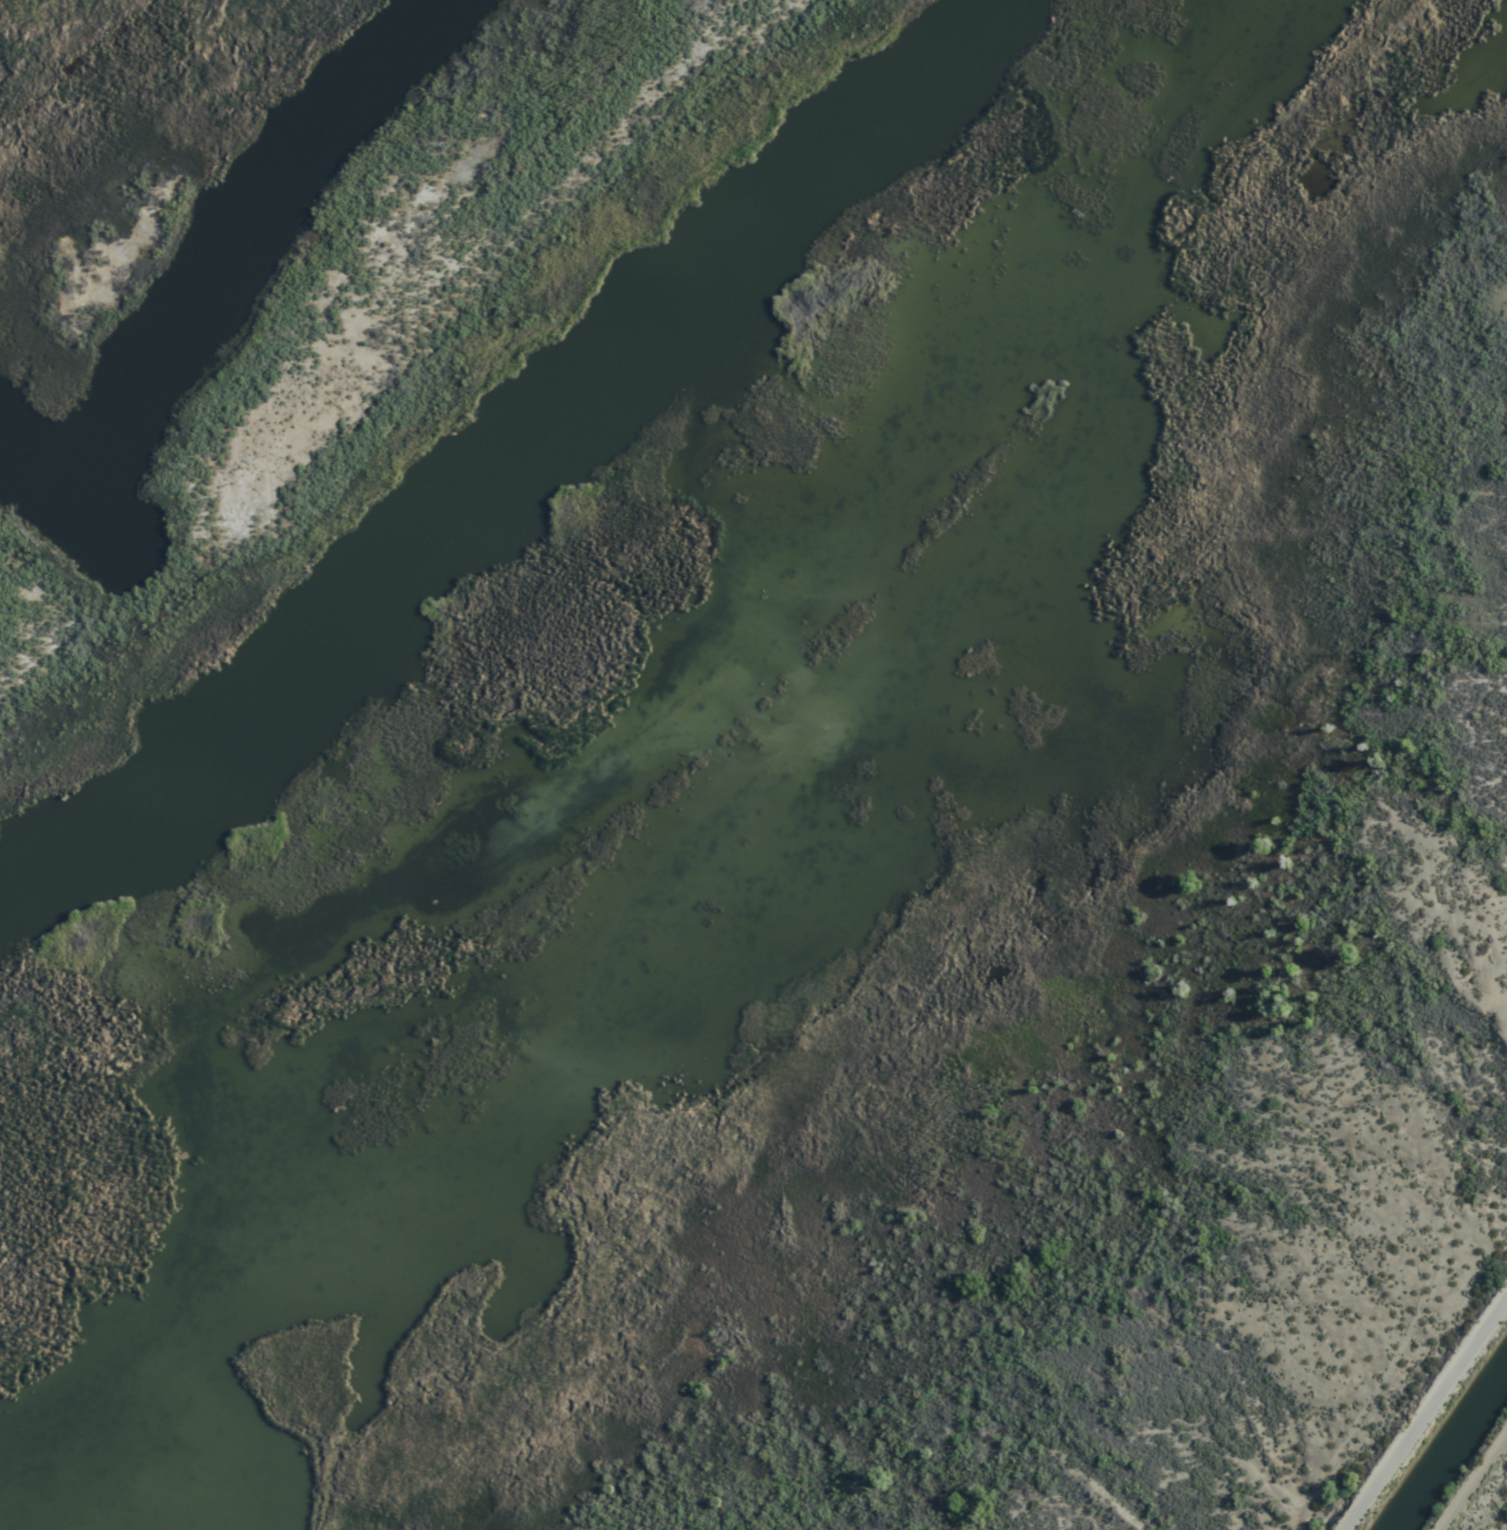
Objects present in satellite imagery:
road: (1427, 1415)
river: (1452, 1450)

